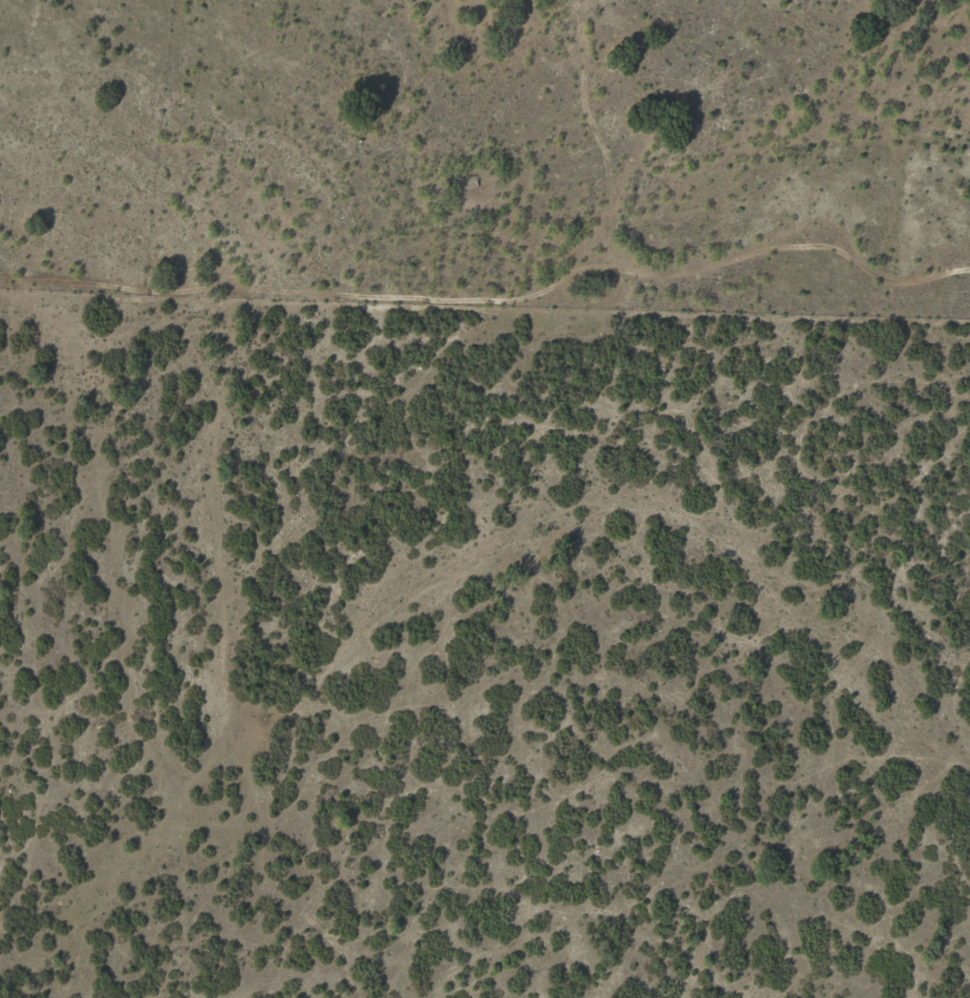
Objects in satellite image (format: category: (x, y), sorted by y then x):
building: (468, 182)

